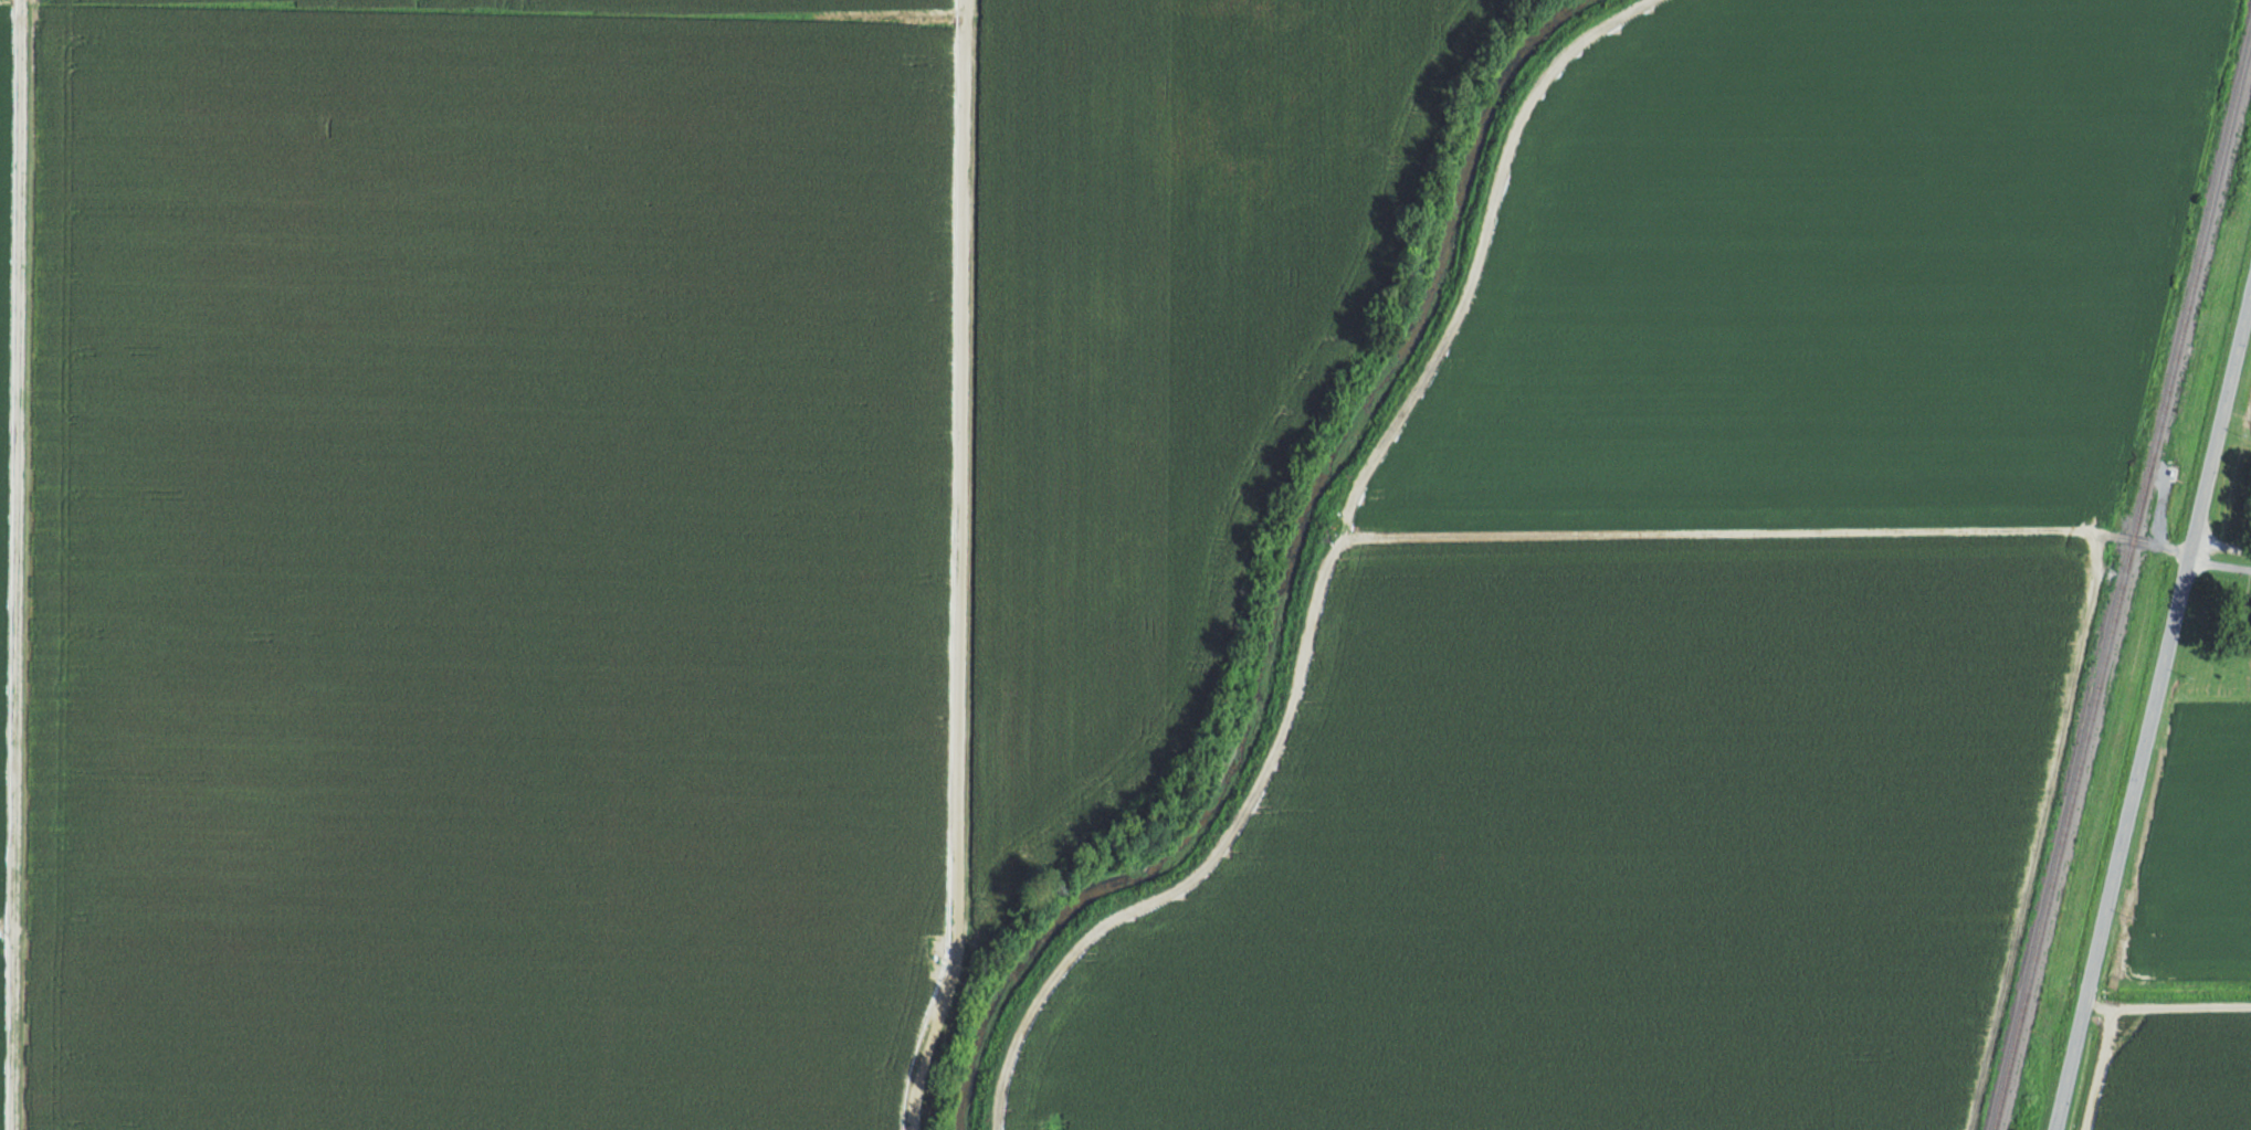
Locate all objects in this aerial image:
road: (967, 567)
railway: (2123, 583)
road: (2152, 708)

